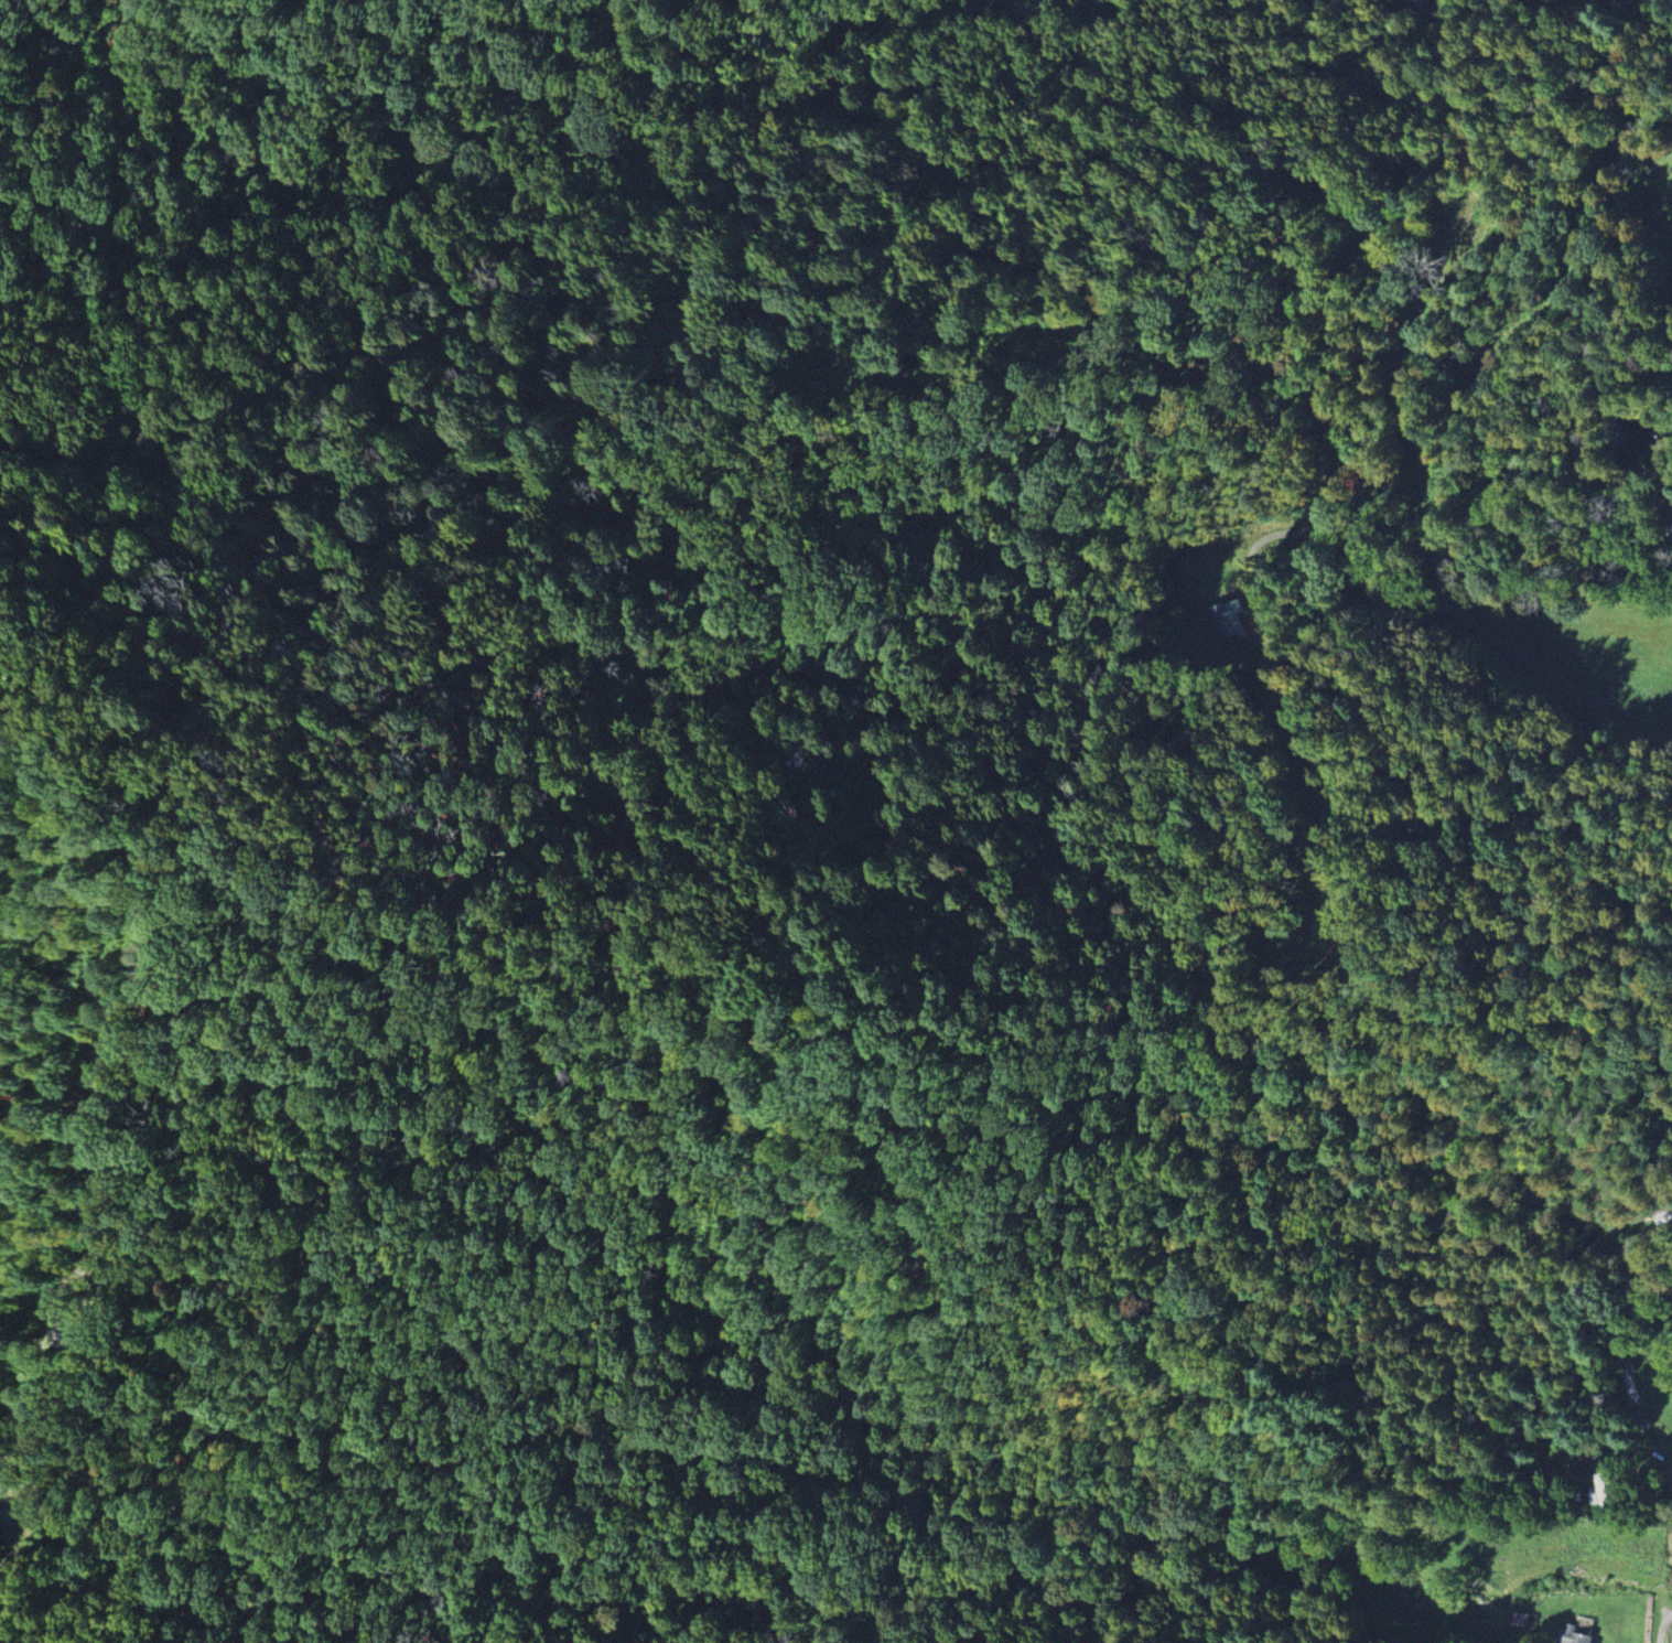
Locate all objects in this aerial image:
building: (1225, 620)
building: (108, 1066)
road: (97, 1186)
building: (78, 1334)
road: (39, 1374)
building: (1628, 1377)
building: (1600, 1492)
road: (13, 1543)
building: (1523, 1619)
road: (1662, 1625)
building: (1579, 1636)

